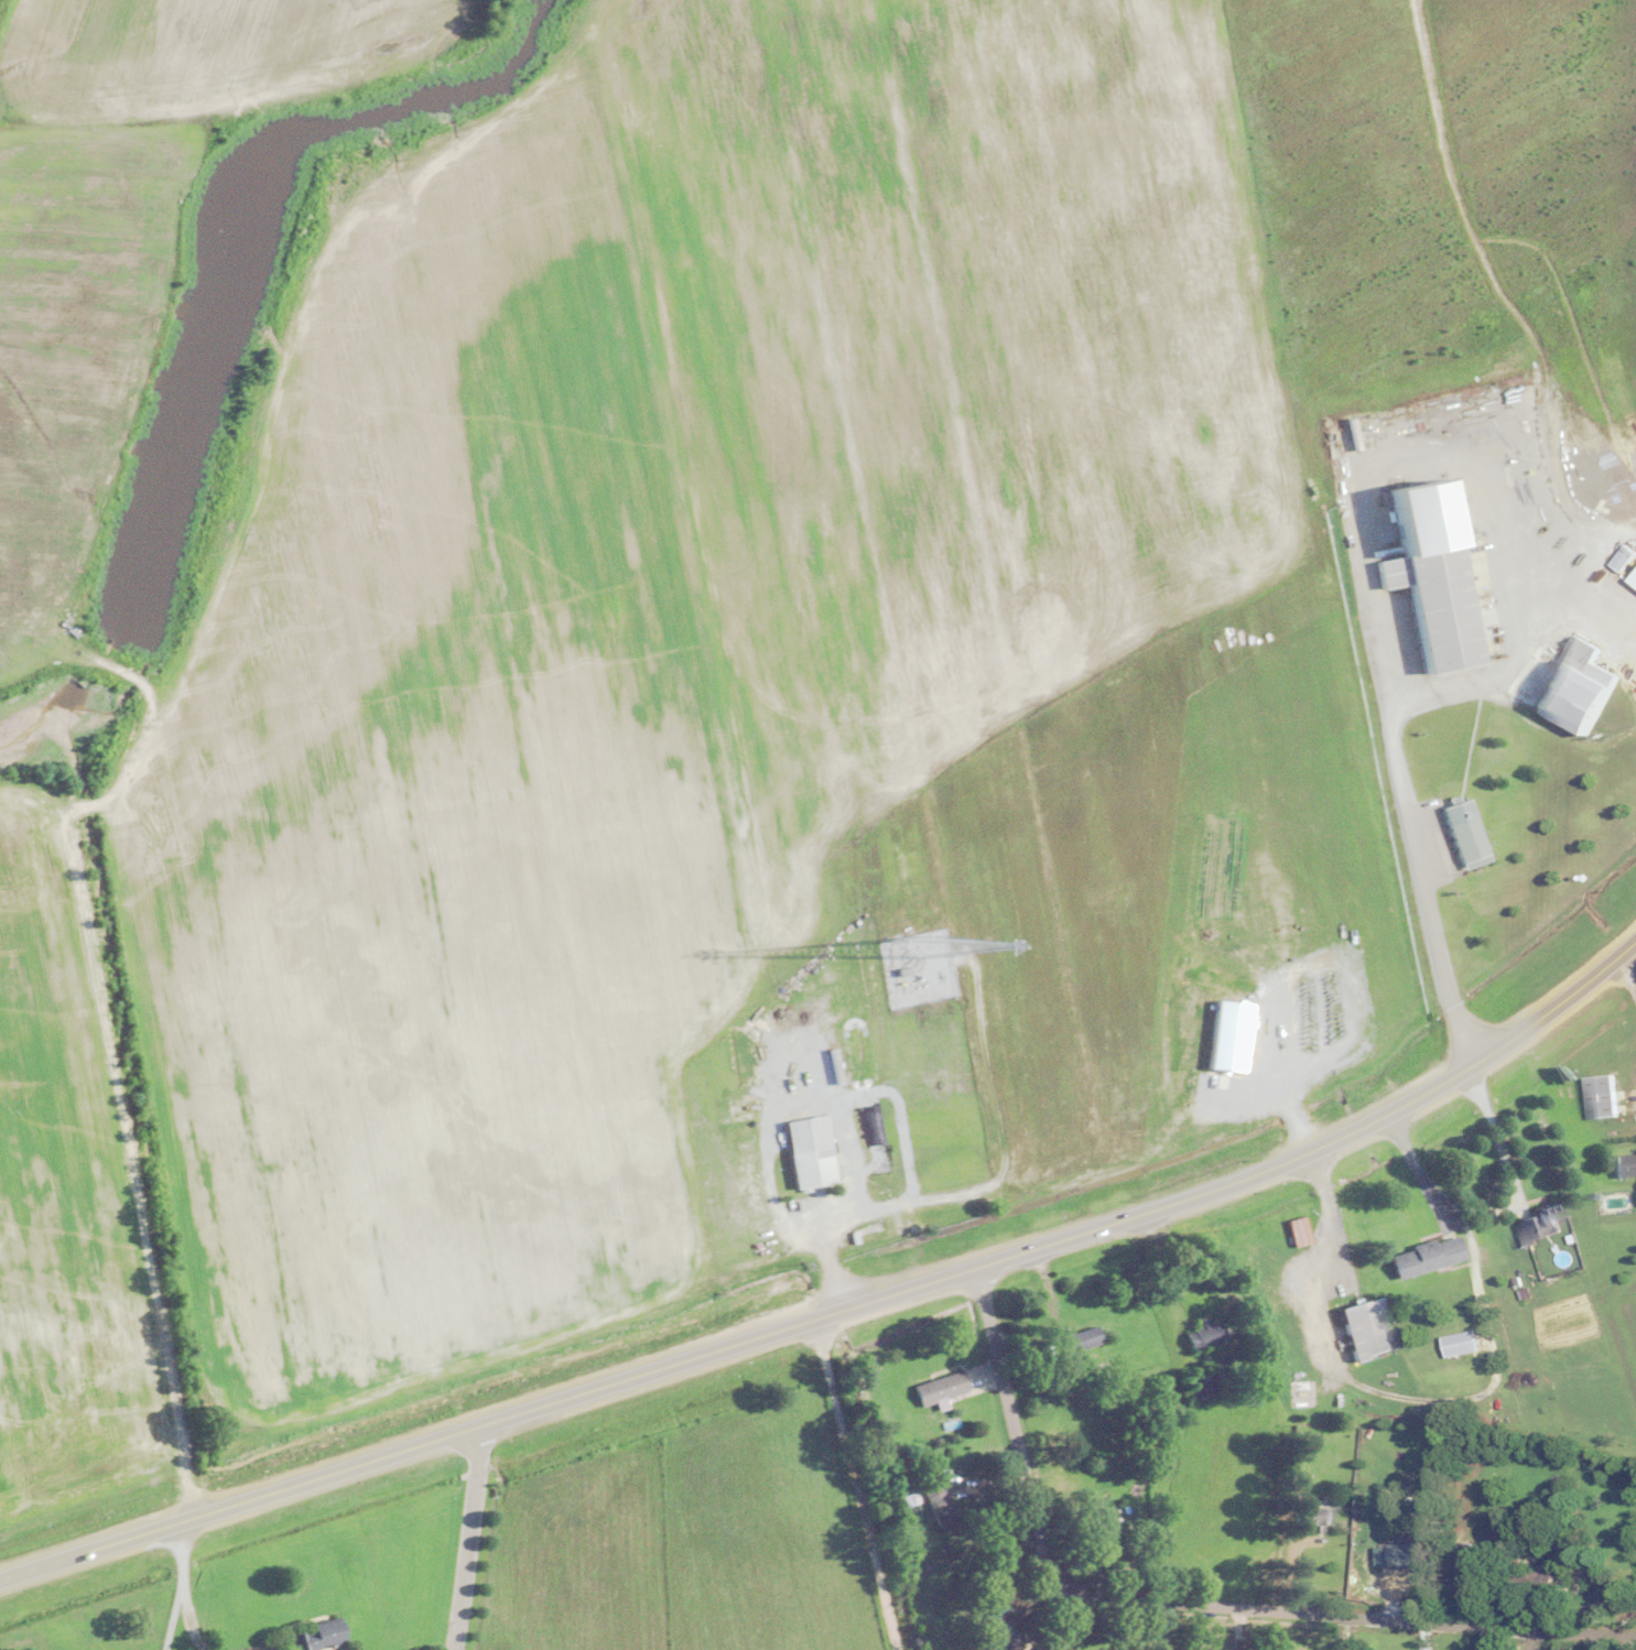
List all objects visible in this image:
road: (1395, 468)
building: (1616, 561)
building: (1424, 574)
road: (1593, 622)
road: (1487, 675)
building: (1572, 687)
building: (1463, 833)
road: (1426, 886)
road: (1630, 978)
building: (1600, 1096)
road: (1493, 1139)
building: (806, 1150)
building: (1622, 1164)
building: (1534, 1223)
building: (1421, 1256)
road: (841, 1307)
building: (1363, 1327)
building: (1200, 1333)
building: (1075, 1338)
building: (1459, 1343)
building: (1196, 1383)
building: (938, 1387)
road: (1447, 1401)
road: (853, 1484)
building: (934, 1501)
building: (1315, 1515)
building: (1102, 1529)
road: (469, 1537)
building: (1404, 1554)
building: (1463, 1567)
building: (1528, 1581)
road: (174, 1587)
road: (1179, 1600)
building: (987, 1614)
road: (189, 1628)
building: (314, 1635)
building: (994, 1635)

